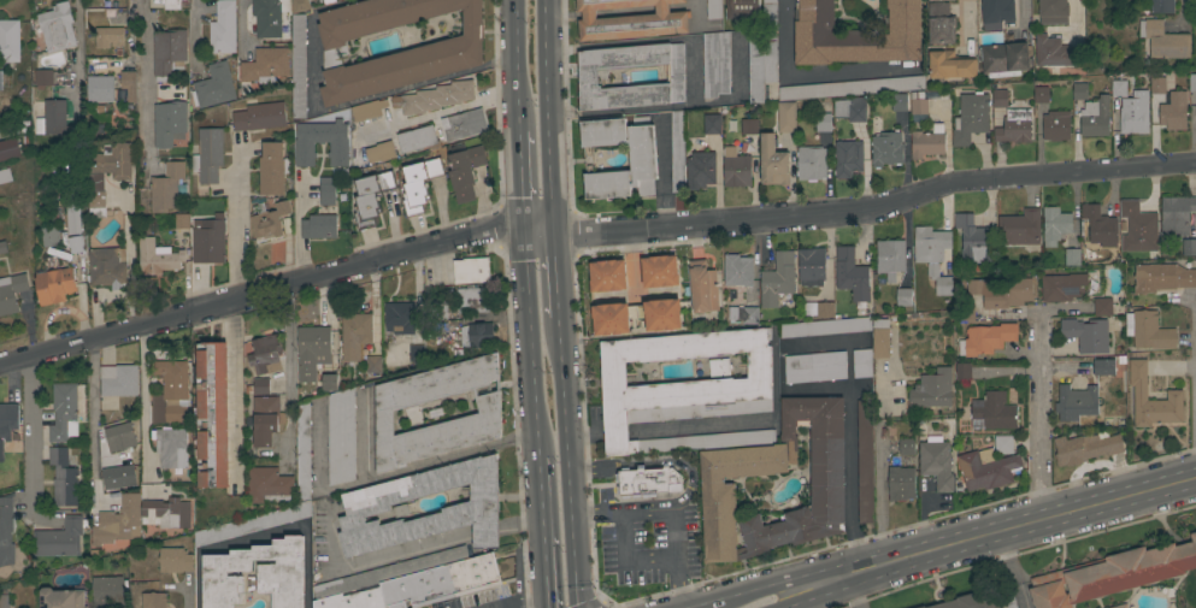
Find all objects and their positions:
building: (936, 0)
building: (171, 6)
building: (299, 6)
building: (1161, 6)
building: (741, 8)
building: (713, 10)
road: (1021, 10)
building: (1053, 11)
road: (1183, 12)
building: (996, 13)
road: (965, 14)
building: (269, 17)
building: (629, 19)
road: (241, 20)
building: (939, 24)
building: (57, 28)
road: (190, 29)
building: (223, 30)
building: (854, 35)
building: (108, 37)
building: (10, 41)
building: (1162, 41)
road: (77, 45)
building: (446, 49)
building: (762, 53)
building: (1055, 53)
building: (167, 54)
building: (1002, 59)
building: (715, 64)
building: (266, 65)
building: (949, 65)
road: (519, 66)
building: (299, 67)
road: (802, 72)
building: (587, 77)
building: (41, 81)
building: (1192, 82)
road: (142, 84)
building: (129, 85)
building: (1157, 85)
building: (213, 87)
building: (850, 88)
building: (1118, 88)
building: (100, 89)
building: (1079, 92)
building: (1041, 95)
building: (436, 98)
building: (998, 99)
building: (899, 102)
building: (918, 104)
road: (343, 106)
building: (849, 110)
building: (365, 111)
building: (1173, 111)
building: (1135, 112)
building: (260, 117)
building: (785, 117)
building: (54, 118)
building: (970, 118)
building: (1095, 118)
road: (548, 122)
building: (169, 123)
building: (823, 123)
building: (712, 124)
building: (464, 125)
building: (749, 126)
building: (1014, 126)
building: (1055, 126)
building: (37, 128)
building: (88, 131)
building: (75, 134)
building: (416, 140)
building: (927, 142)
building: (322, 143)
building: (8, 149)
building: (886, 149)
building: (677, 152)
building: (379, 153)
building: (208, 157)
building: (642, 159)
building: (847, 159)
building: (772, 163)
building: (811, 164)
building: (272, 169)
building: (736, 169)
building: (700, 170)
building: (465, 172)
building: (5, 177)
road: (523, 181)
building: (419, 184)
building: (95, 185)
building: (167, 189)
building: (326, 191)
building: (371, 197)
building: (1176, 216)
building: (72, 219)
road: (234, 219)
building: (270, 220)
building: (182, 222)
building: (319, 226)
building: (1055, 226)
building: (1100, 226)
building: (1137, 228)
building: (1019, 229)
road: (296, 235)
building: (49, 237)
road: (590, 238)
building: (973, 240)
building: (208, 242)
building: (76, 244)
building: (2, 247)
road: (129, 247)
building: (1189, 248)
building: (933, 255)
building: (158, 258)
building: (889, 258)
building: (1072, 258)
building: (811, 266)
building: (107, 268)
building: (471, 271)
building: (737, 271)
building: (659, 272)
building: (607, 276)
building: (852, 276)
building: (1161, 278)
building: (777, 279)
road: (555, 281)
building: (54, 283)
building: (1064, 287)
building: (702, 288)
building: (1001, 291)
building: (11, 293)
building: (903, 297)
building: (460, 303)
road: (94, 307)
road: (1048, 307)
building: (1102, 307)
building: (818, 309)
road: (130, 312)
building: (742, 314)
building: (661, 315)
building: (399, 319)
building: (611, 319)
building: (825, 327)
building: (1148, 331)
building: (1085, 333)
building: (477, 335)
building: (355, 336)
building: (880, 338)
building: (986, 340)
road: (532, 342)
building: (312, 350)
building: (416, 353)
building: (265, 354)
building: (861, 364)
building: (373, 365)
building: (1103, 366)
building: (718, 367)
building: (814, 367)
road: (287, 370)
building: (962, 372)
building: (119, 380)
building: (329, 383)
building: (260, 386)
building: (684, 390)
building: (932, 390)
road: (1194, 390)
road: (236, 391)
building: (170, 392)
building: (1173, 395)
road: (145, 397)
building: (1076, 402)
building: (64, 412)
building: (994, 412)
building: (212, 414)
road: (1037, 415)
building: (264, 420)
road: (90, 421)
building: (467, 424)
building: (7, 425)
road: (30, 437)
building: (119, 437)
building: (341, 437)
road: (519, 437)
building: (1003, 444)
building: (171, 447)
road: (852, 447)
building: (906, 447)
building: (1085, 448)
building: (302, 451)
road: (649, 461)
building: (865, 461)
road: (566, 462)
building: (936, 465)
building: (986, 470)
road: (394, 473)
building: (64, 478)
building: (111, 480)
building: (649, 480)
building: (826, 480)
building: (900, 484)
building: (267, 485)
road: (672, 506)
building: (472, 507)
building: (167, 513)
building: (117, 521)
building: (252, 523)
building: (6, 531)
road: (544, 531)
road: (260, 535)
road: (994, 536)
building: (61, 538)
road: (410, 548)
building: (173, 560)
road: (1013, 571)
building: (389, 573)
building: (279, 574)
building: (1113, 574)
building: (441, 583)
road: (749, 588)
building: (106, 591)
road: (849, 592)
road: (820, 596)
building: (60, 598)
road: (182, 598)
road: (783, 598)
building: (153, 600)
building: (353, 600)
building: (973, 600)
building: (4, 601)
building: (1008, 601)
road: (531, 603)
road: (694, 604)
building: (1120, 606)
building: (920, 607)

